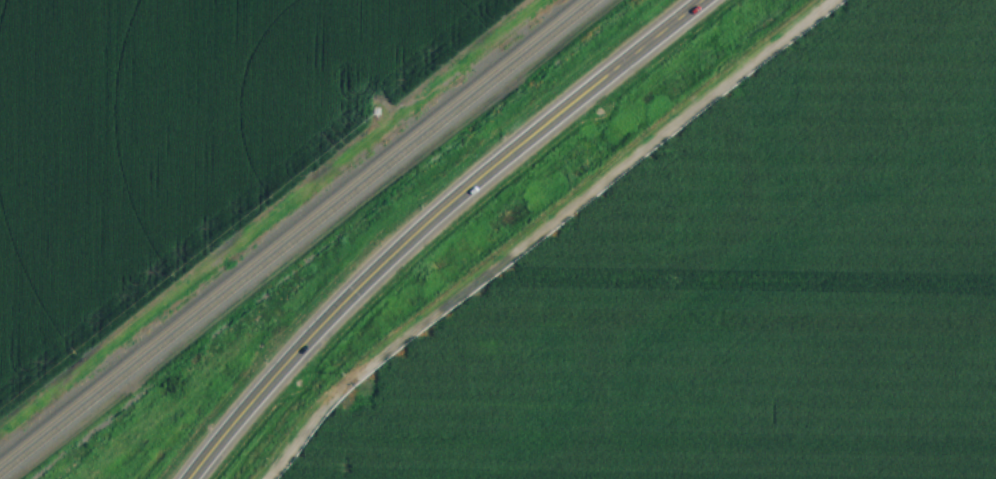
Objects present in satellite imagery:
road: (430, 221)
railway: (290, 230)
railway: (298, 237)

